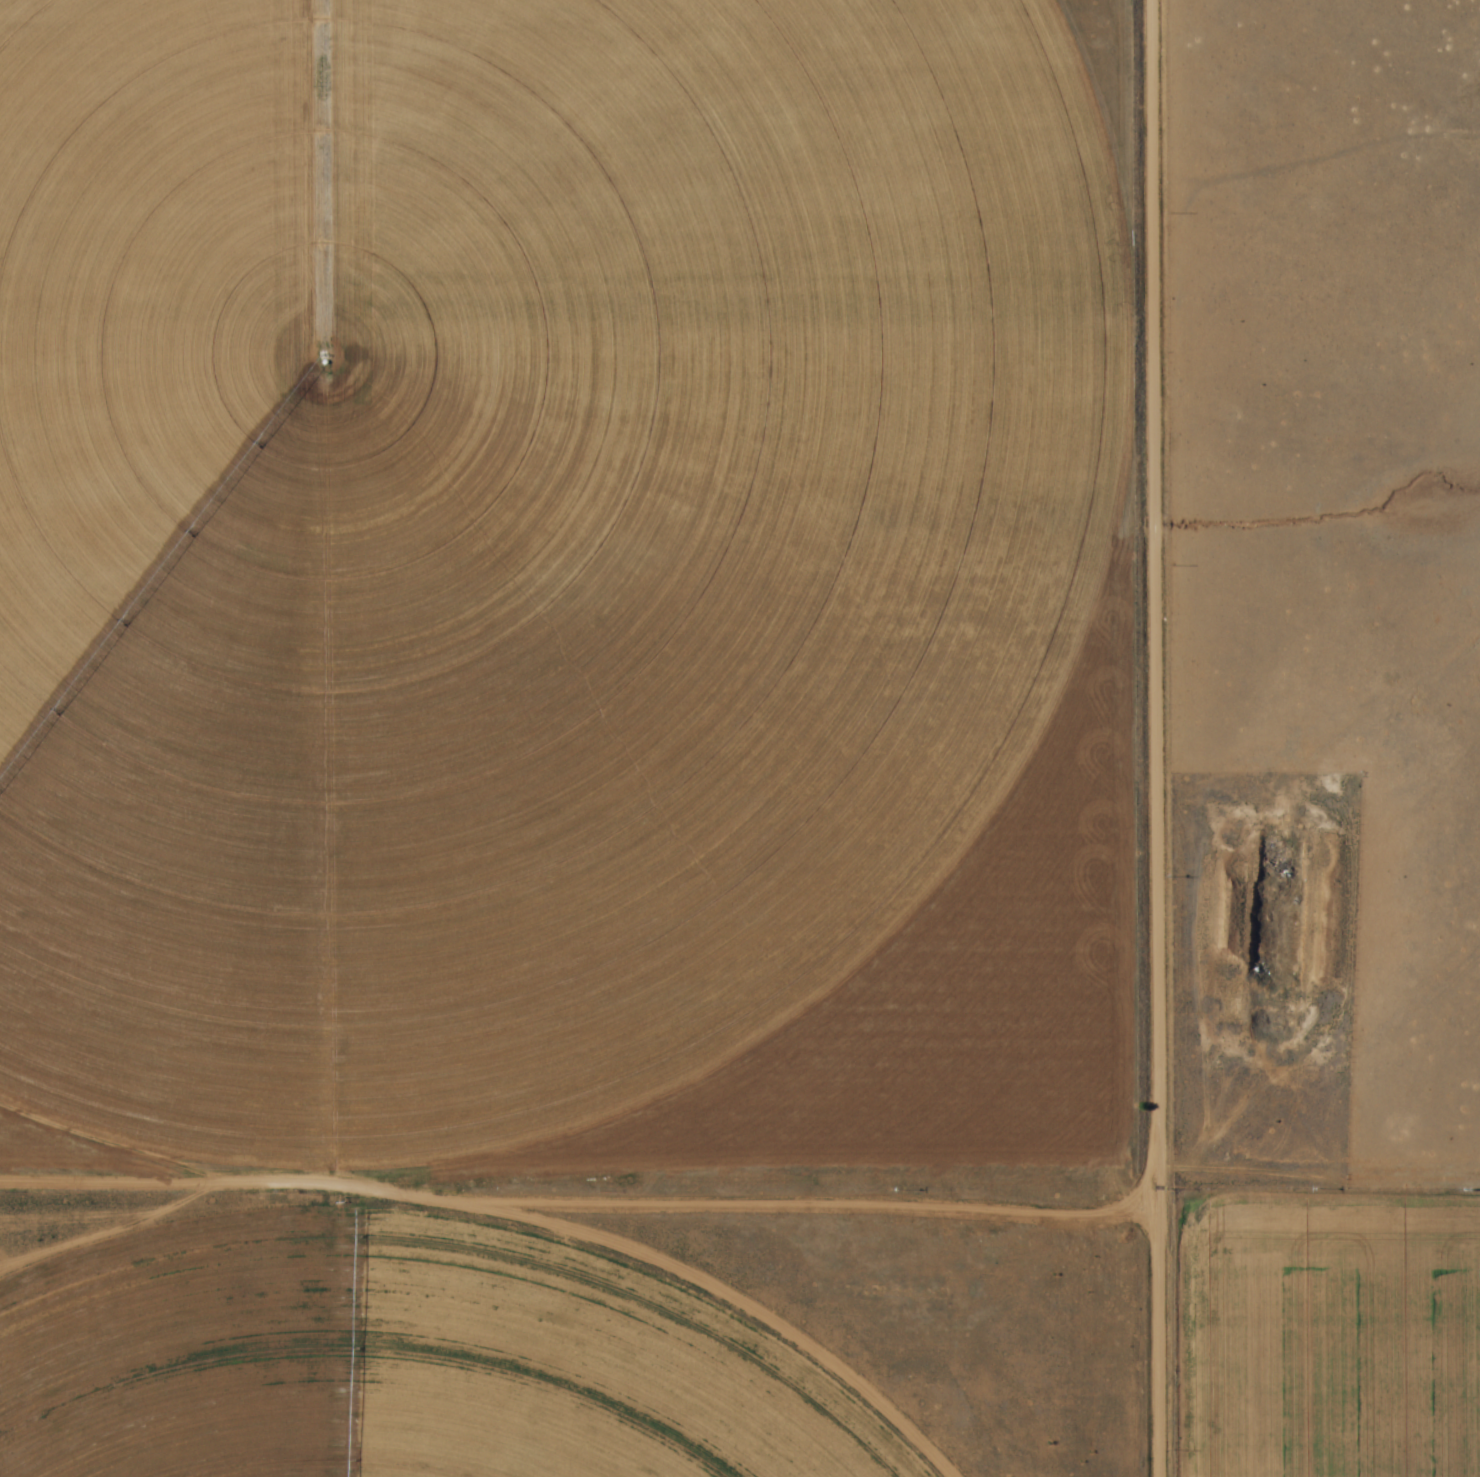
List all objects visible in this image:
road: (1165, 576)
road: (584, 1156)
road: (1166, 1315)

